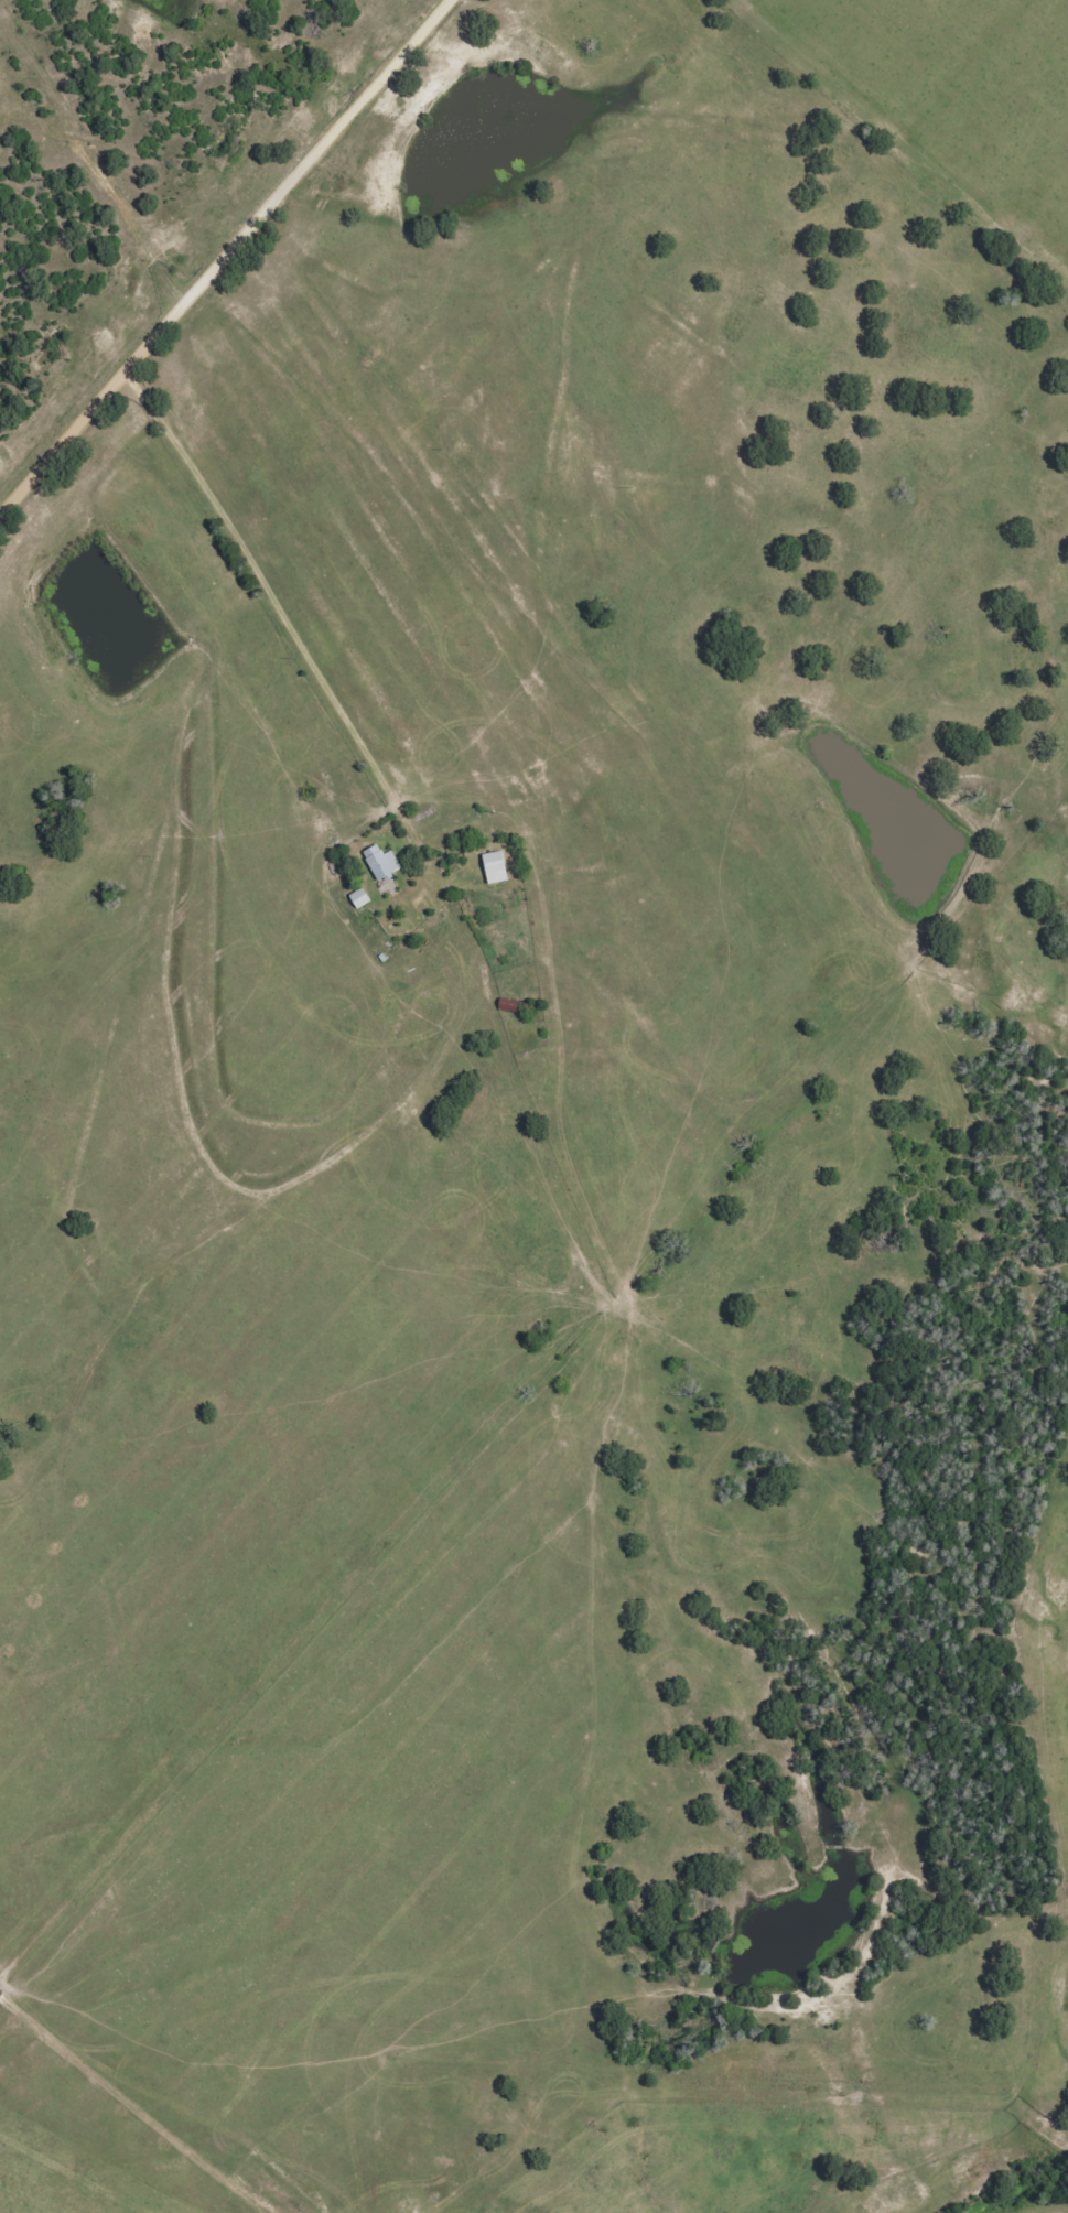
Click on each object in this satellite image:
road: (222, 258)
building: (386, 864)
road: (445, 1044)
road: (533, 1168)
road: (134, 2107)

